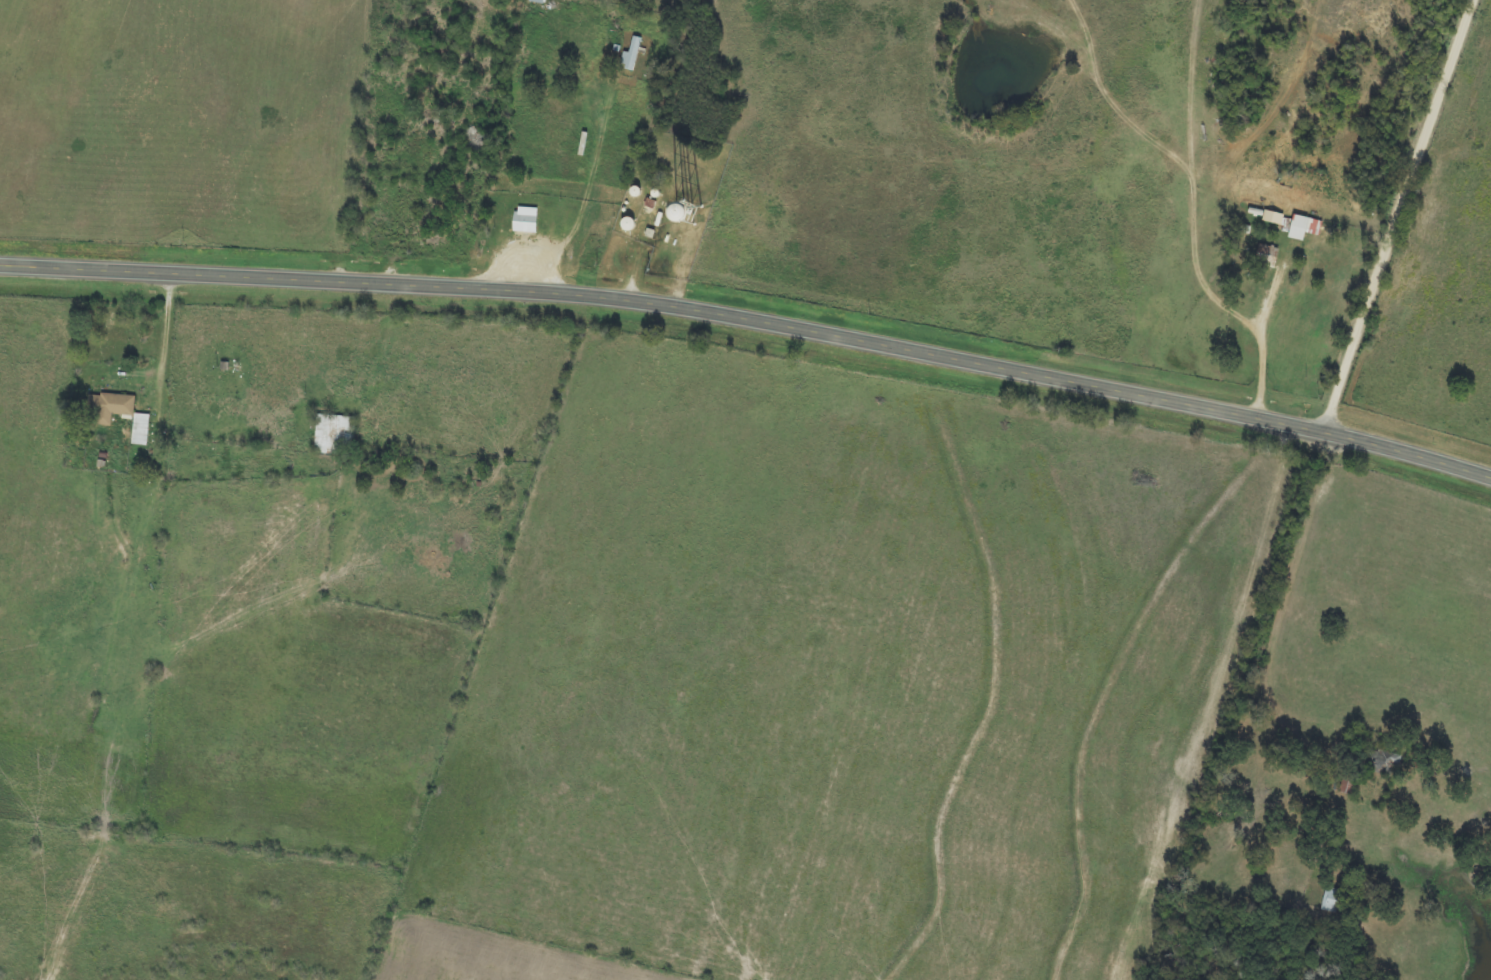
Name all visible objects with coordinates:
building: (631, 56)
building: (1273, 219)
building: (526, 221)
building: (1303, 228)
building: (1267, 256)
road: (752, 323)
building: (120, 415)
road: (1326, 429)

